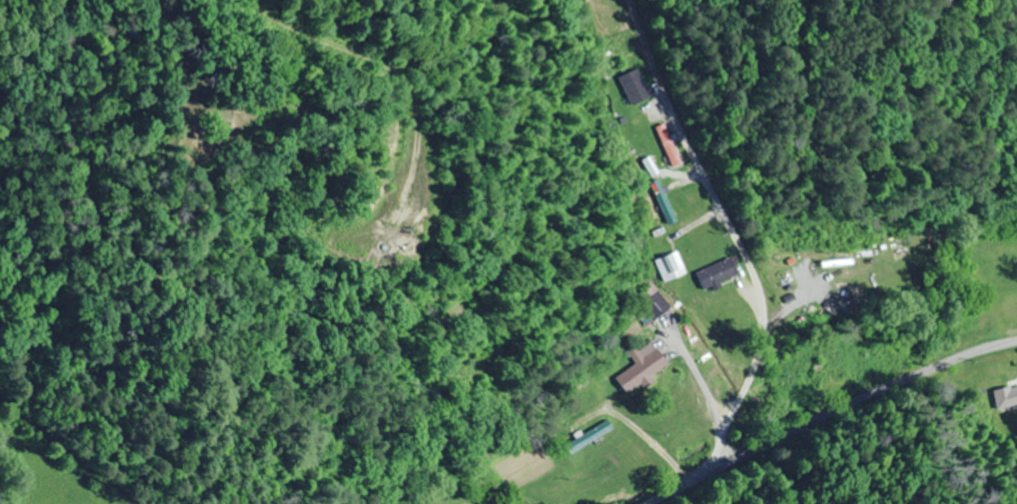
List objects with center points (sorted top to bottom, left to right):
building: (634, 87)
building: (668, 145)
building: (663, 201)
building: (668, 266)
building: (716, 273)
building: (652, 302)
building: (639, 368)
building: (1005, 396)
road: (841, 420)
building: (587, 436)

